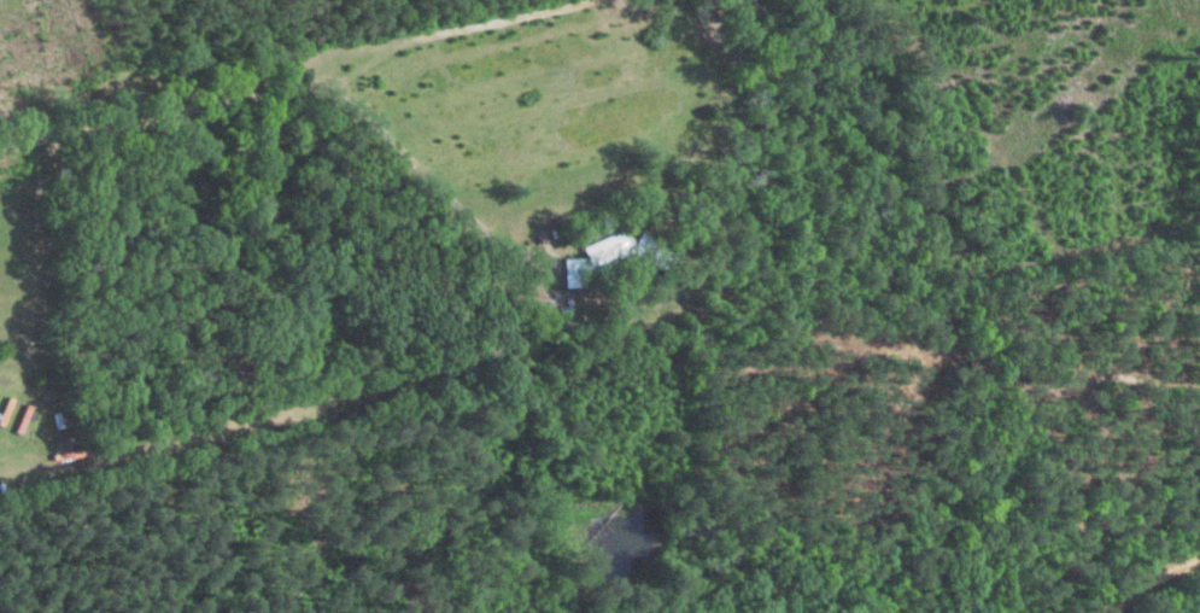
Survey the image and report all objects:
building: (591, 261)

